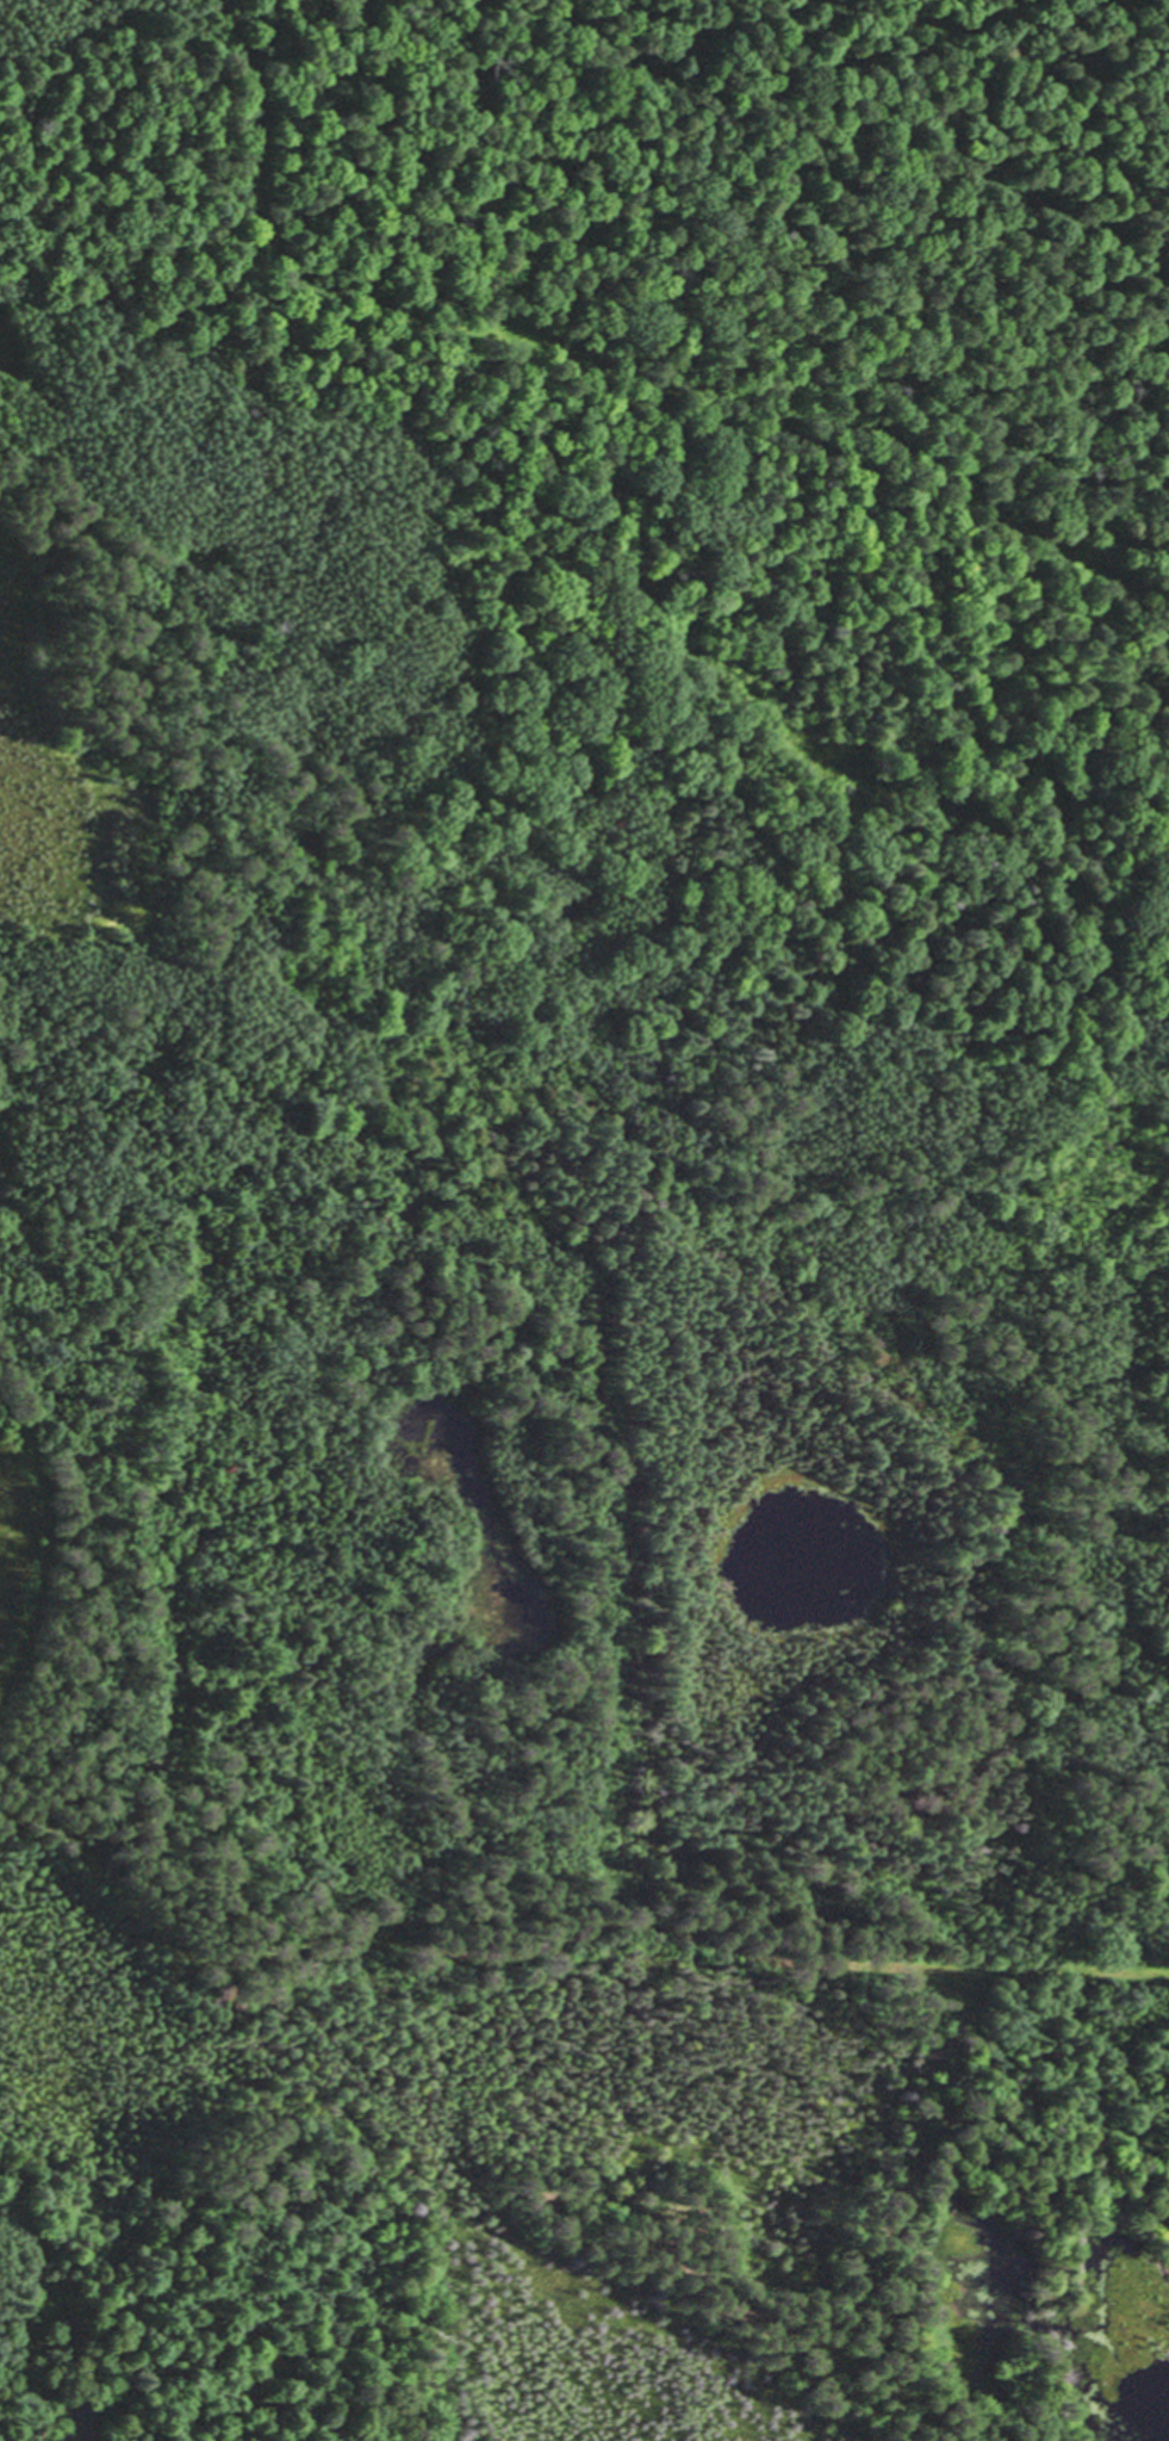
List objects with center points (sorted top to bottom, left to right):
road: (399, 1941)

